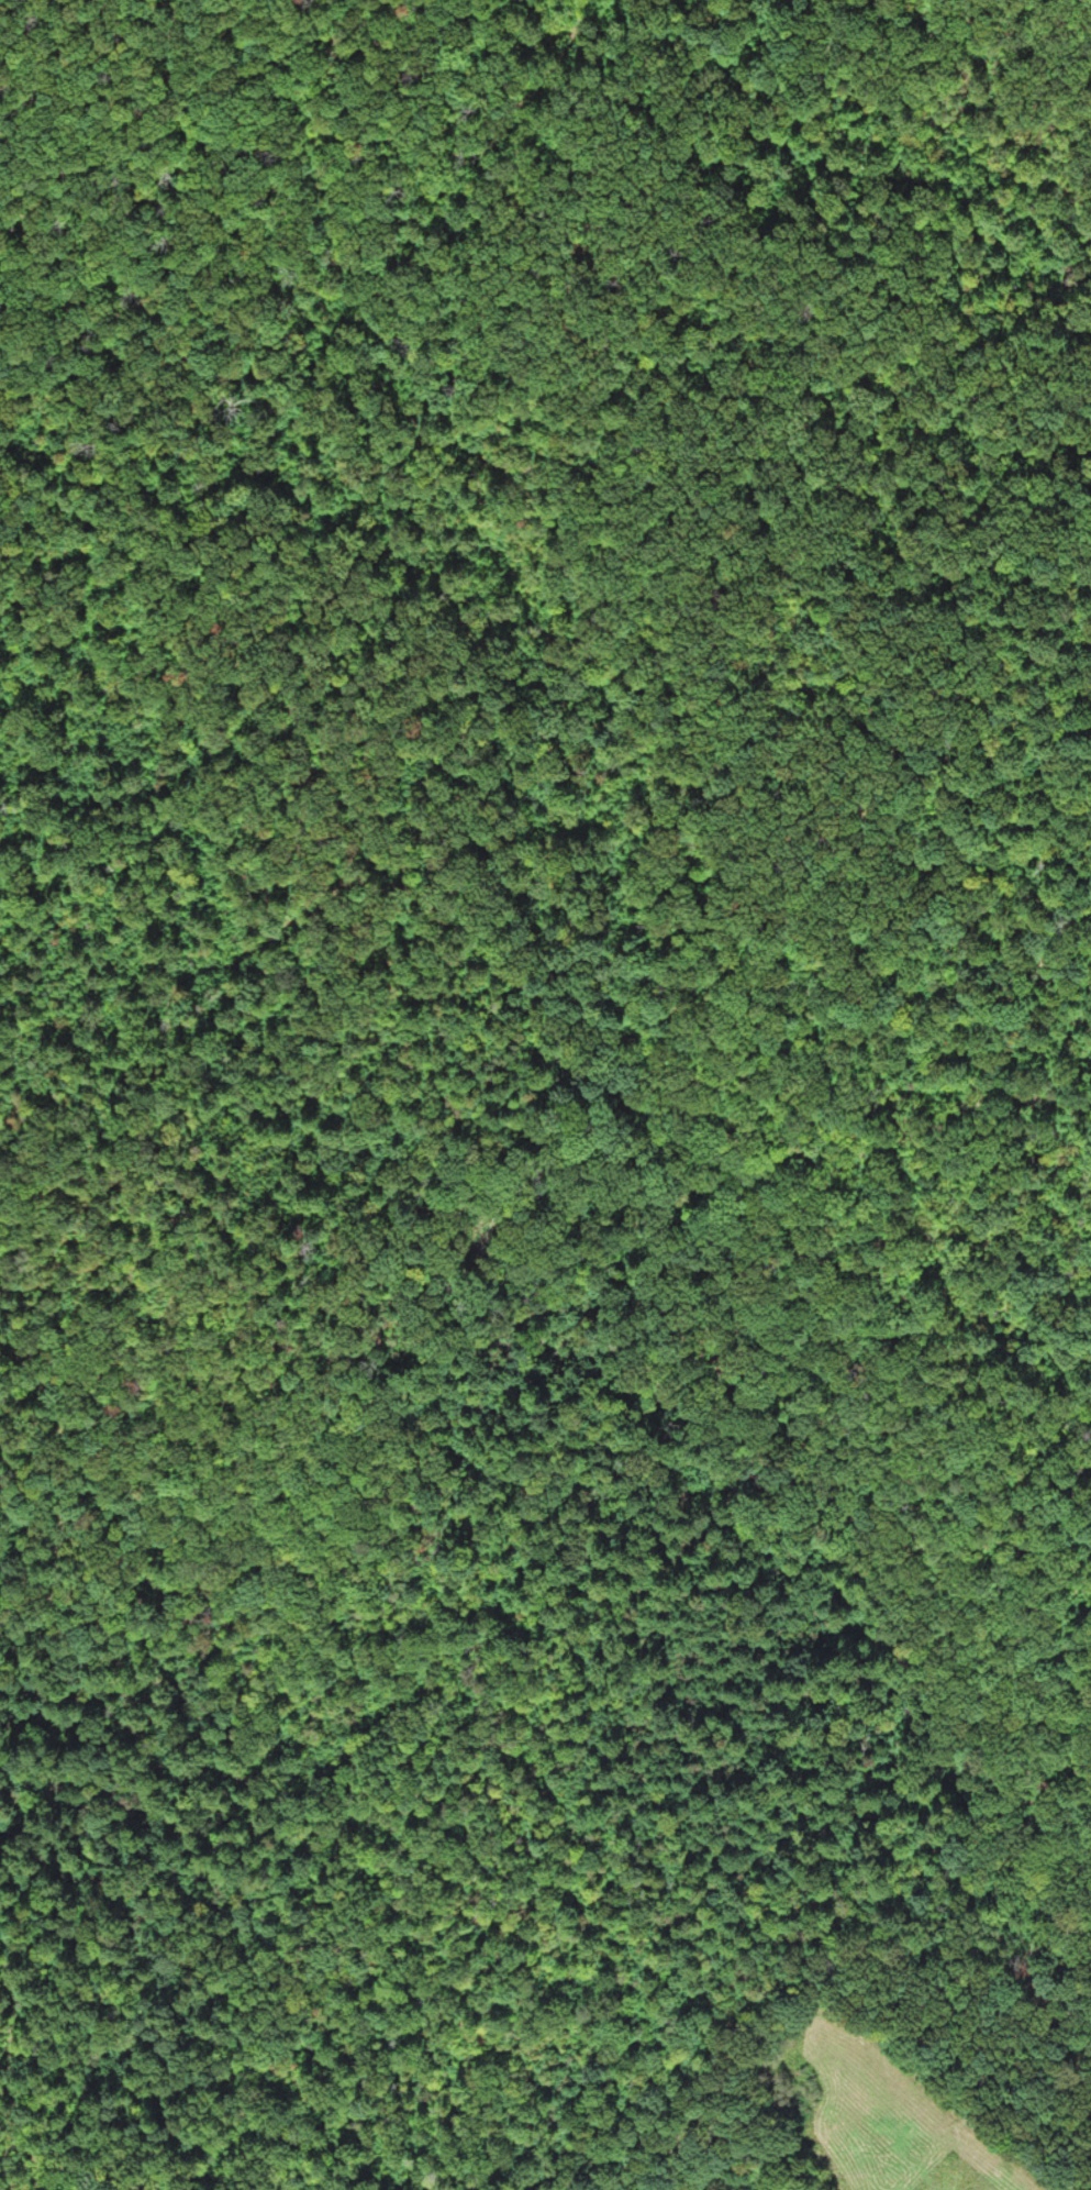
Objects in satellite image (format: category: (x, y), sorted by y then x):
road: (310, 312)

